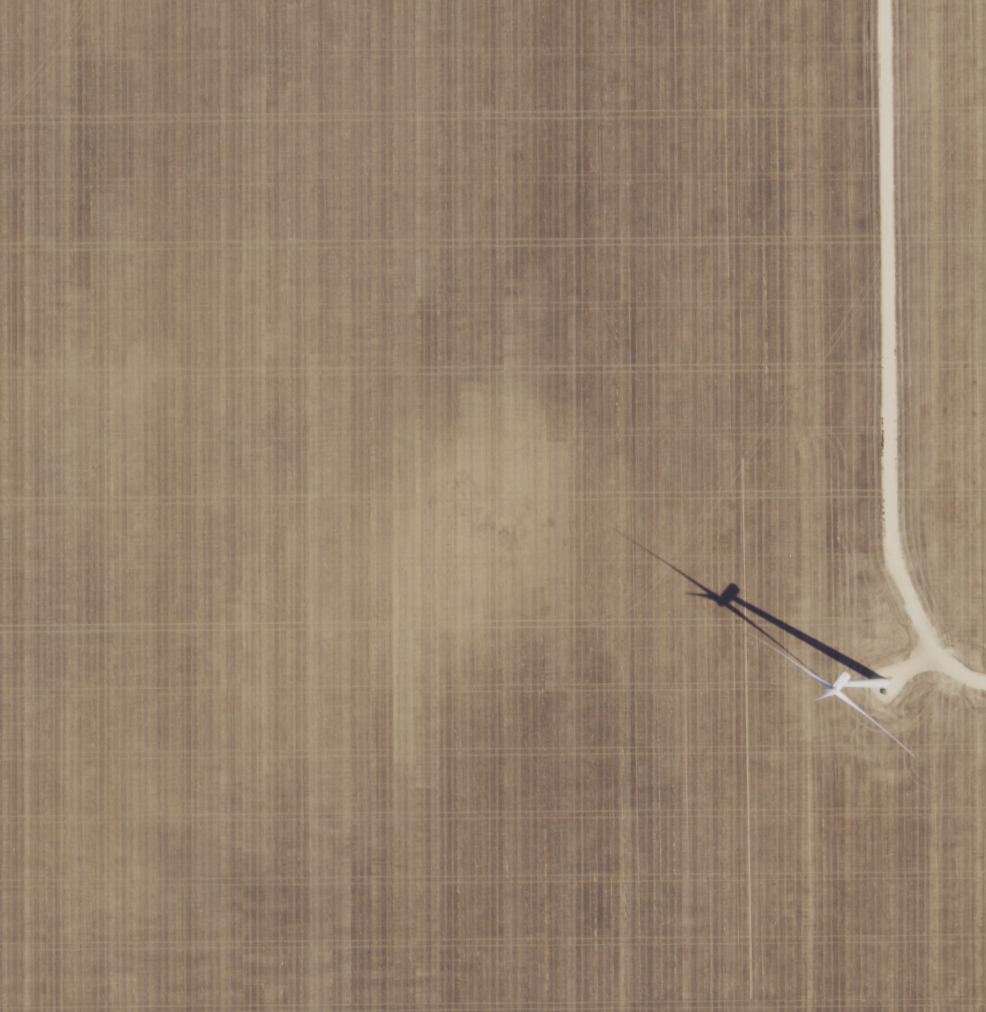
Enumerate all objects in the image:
wind turbine: (878, 685)

